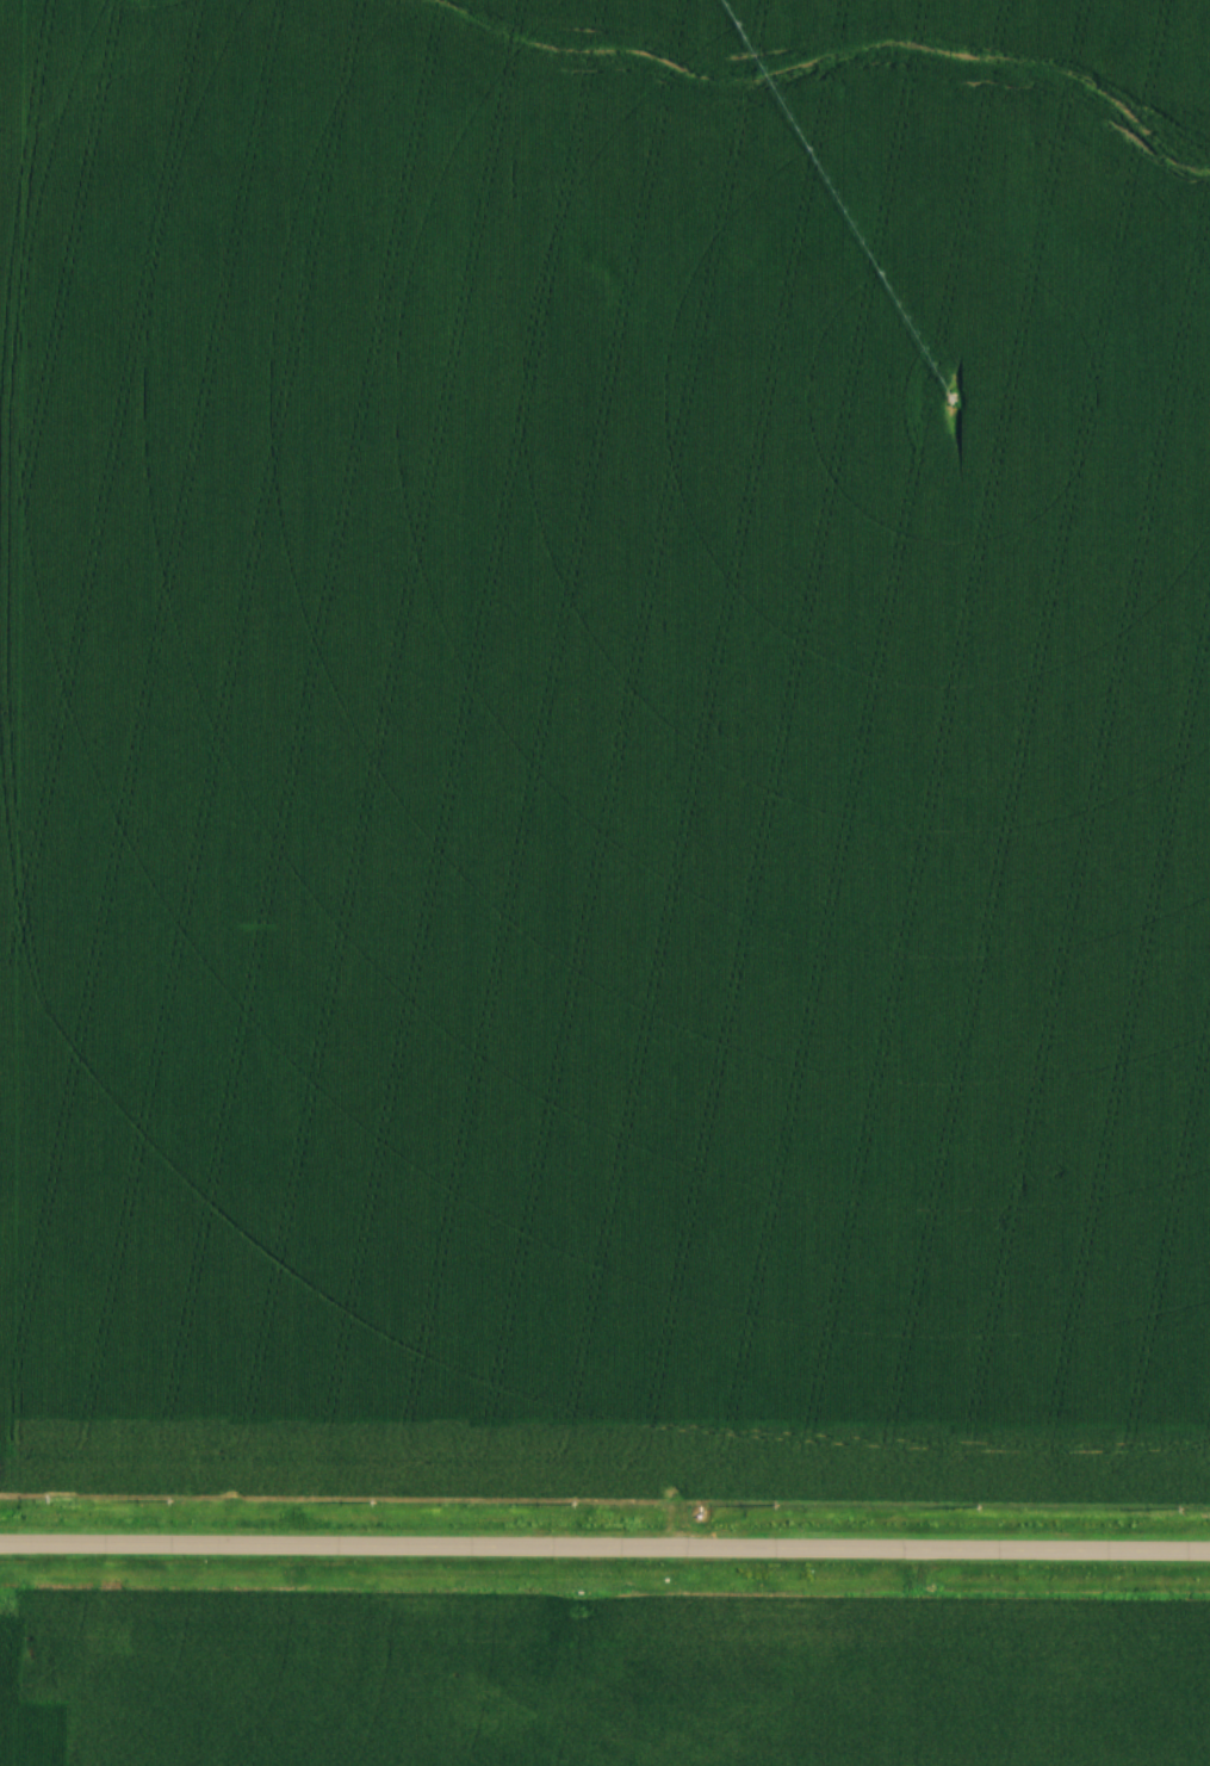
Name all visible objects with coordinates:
road: (604, 1547)
crop: (598, 1679)

